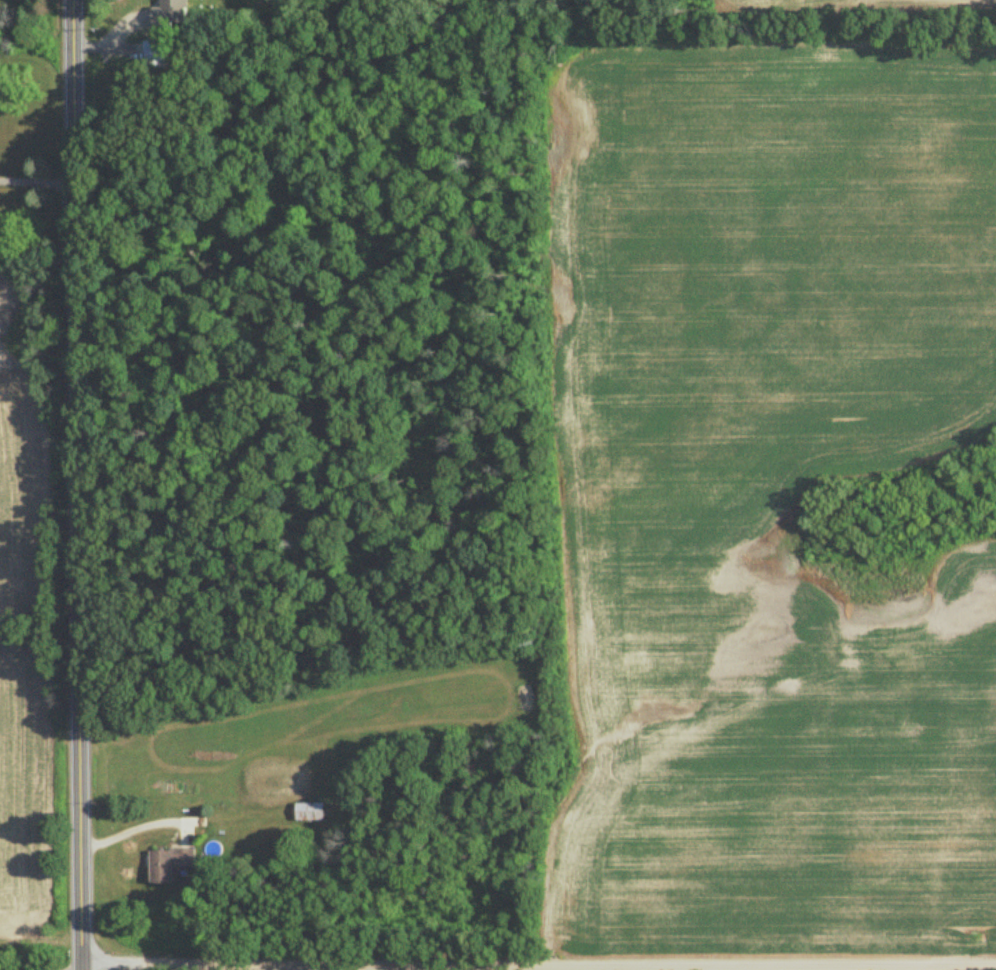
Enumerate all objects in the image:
building: (120, 26)
building: (158, 55)
road: (37, 181)
road: (76, 485)
building: (312, 812)
building: (171, 864)
road: (40, 937)
road: (503, 965)
road: (940, 966)

